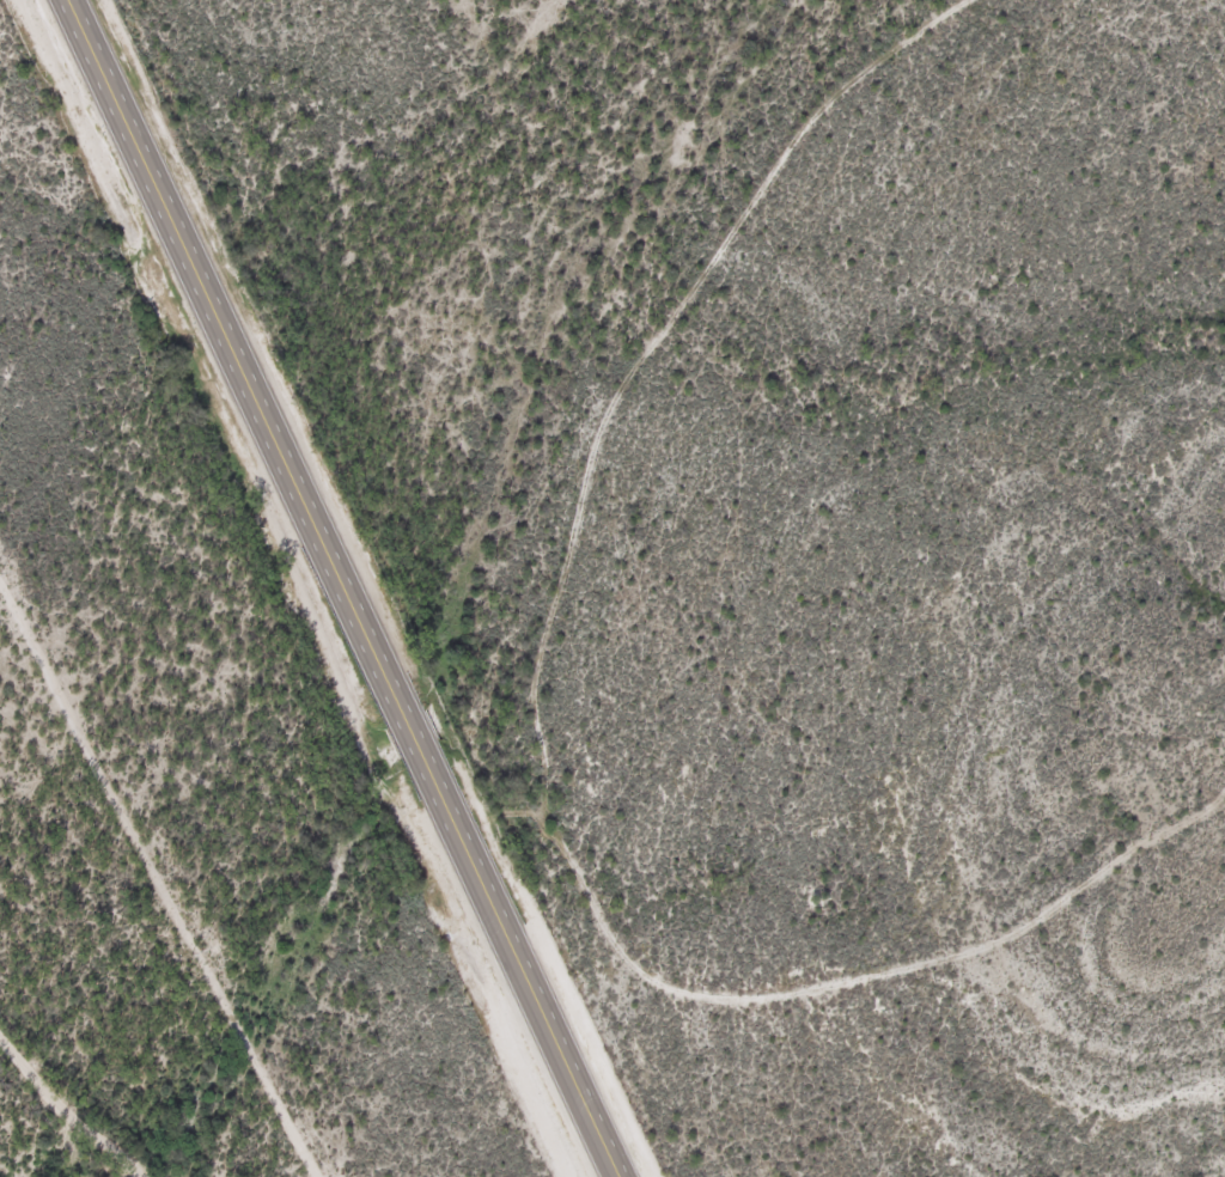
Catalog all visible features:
road: (349, 587)
power tower: (196, 956)
road: (819, 987)
road: (66, 1111)

